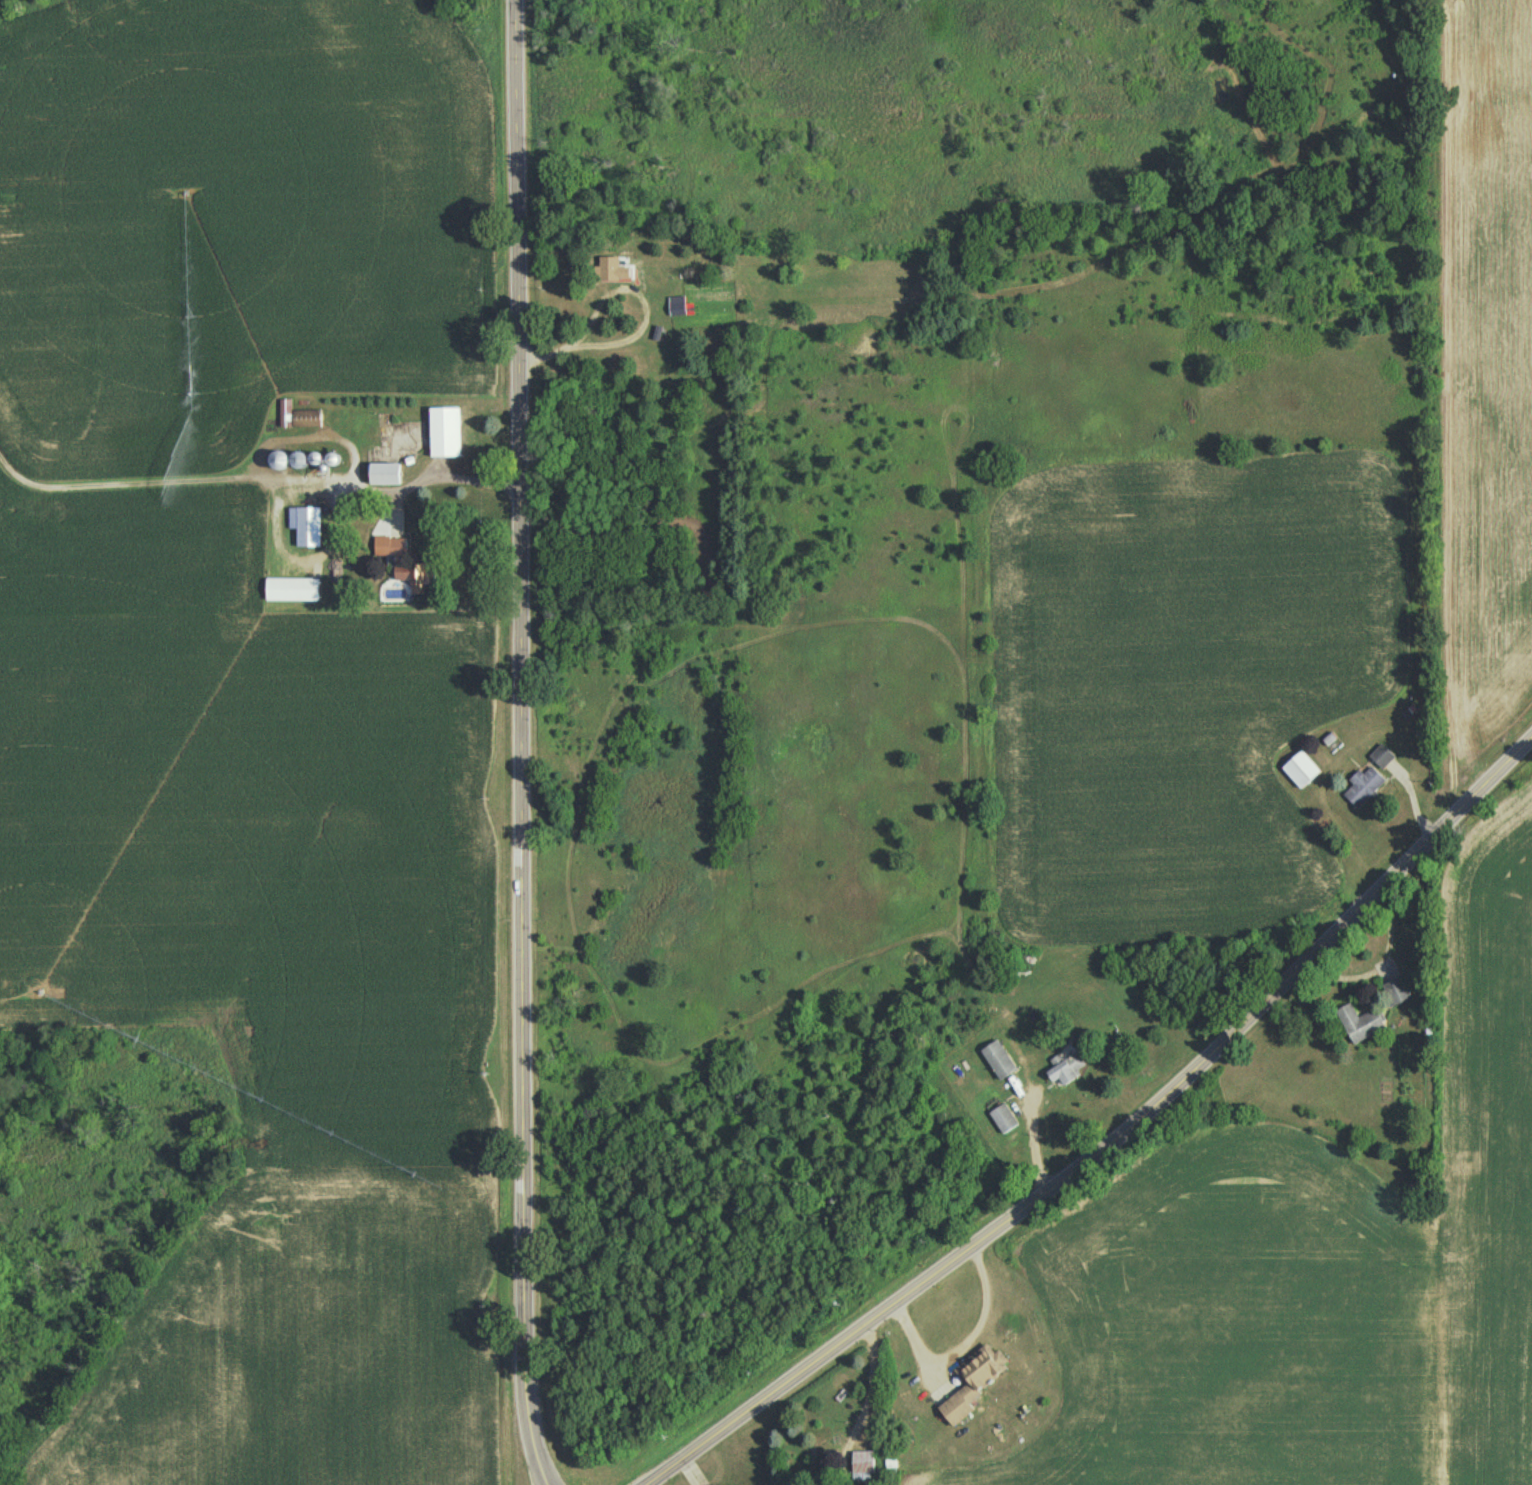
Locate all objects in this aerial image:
building: (608, 270)
building: (677, 308)
building: (298, 419)
building: (444, 434)
building: (279, 462)
building: (299, 462)
building: (385, 476)
building: (306, 527)
building: (410, 570)
building: (293, 591)
road: (514, 742)
building: (1381, 758)
building: (1301, 772)
building: (1363, 789)
building: (1394, 992)
building: (1359, 1024)
building: (998, 1062)
building: (1065, 1071)
building: (1003, 1121)
road: (1111, 1137)
building: (973, 1384)
building: (863, 1469)

